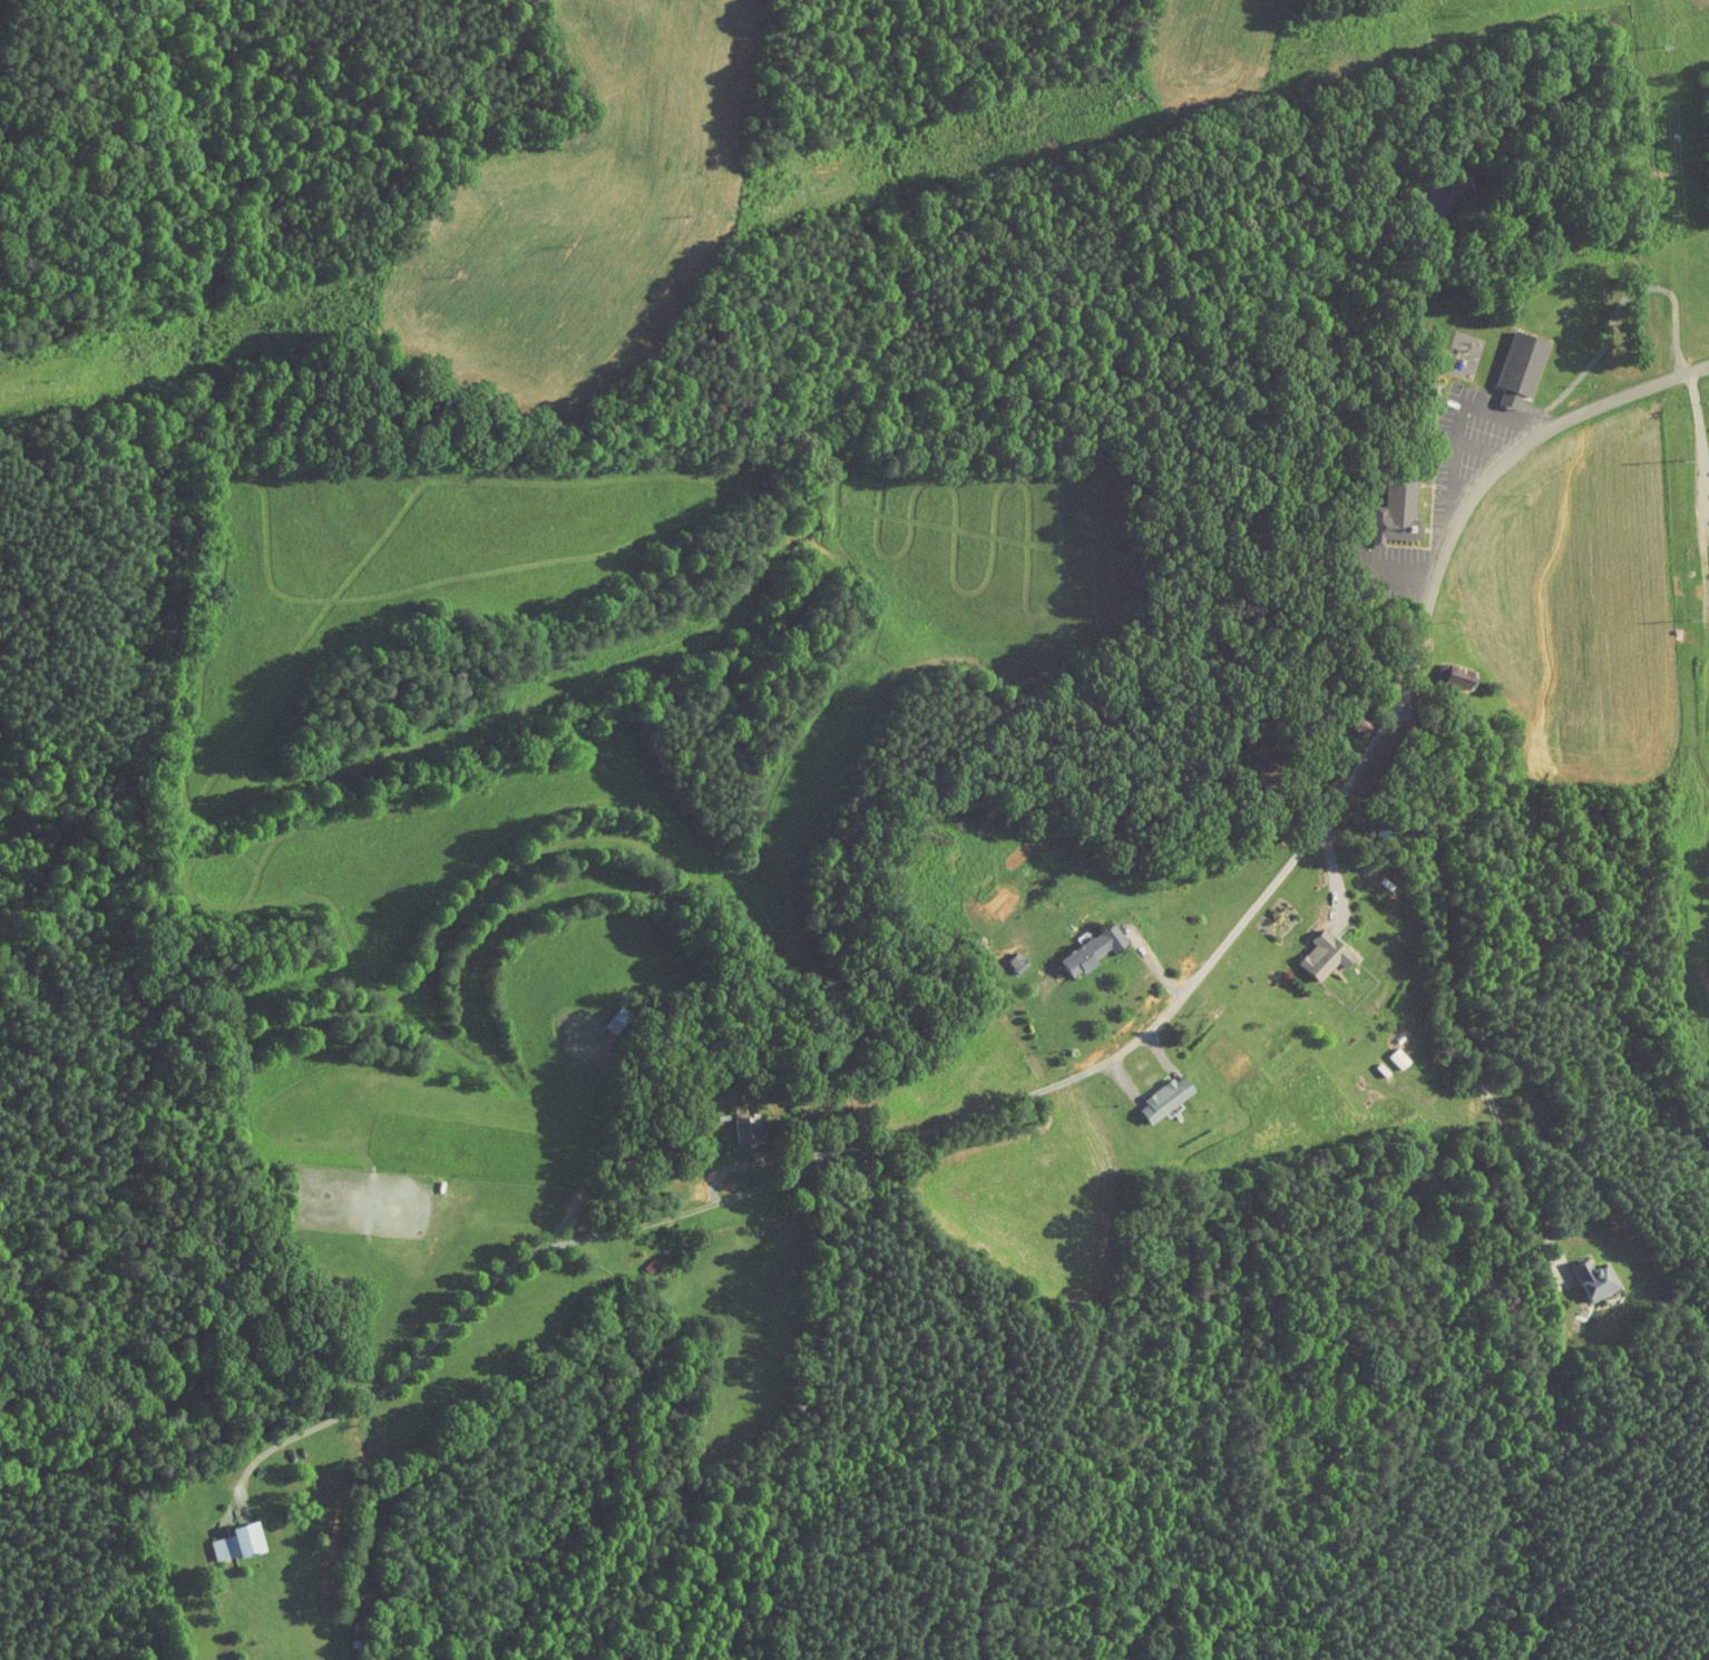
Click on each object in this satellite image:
building: (1517, 364)
road: (1688, 447)
building: (1394, 512)
building: (1444, 670)
building: (1077, 945)
building: (1309, 949)
building: (1384, 1051)
road: (1091, 1071)
building: (1151, 1092)
building: (732, 1120)
building: (1580, 1271)
building: (223, 1535)

